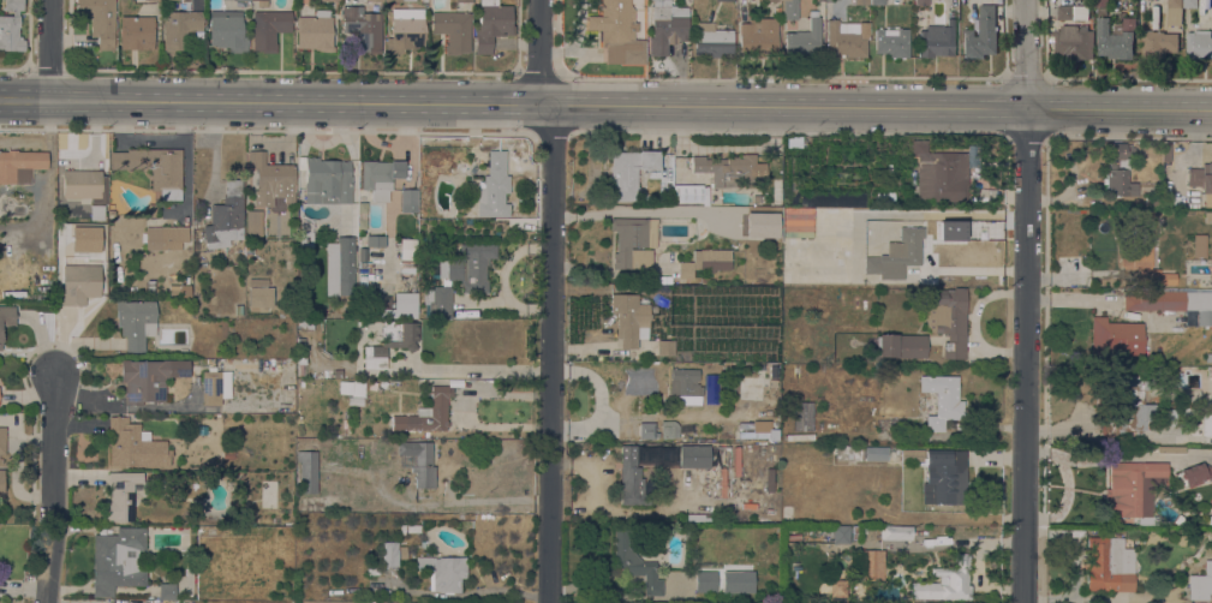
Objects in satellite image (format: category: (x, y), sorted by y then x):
building: (330, 0)
building: (392, 0)
building: (462, 0)
building: (770, 0)
building: (860, 1)
building: (877, 1)
building: (921, 1)
building: (262, 2)
building: (1100, 2)
building: (1189, 4)
building: (789, 10)
building: (1174, 11)
building: (1065, 12)
building: (100, 20)
building: (1129, 23)
building: (364, 24)
building: (491, 24)
building: (667, 25)
building: (11, 26)
building: (179, 28)
building: (268, 28)
building: (453, 29)
building: (227, 30)
building: (406, 30)
building: (315, 31)
building: (136, 32)
building: (619, 32)
building: (981, 32)
building: (756, 34)
building: (712, 38)
building: (844, 38)
building: (936, 40)
building: (804, 41)
building: (891, 41)
building: (1112, 41)
building: (1074, 42)
building: (1158, 42)
building: (1199, 43)
road: (52, 50)
road: (541, 52)
road: (1092, 79)
road: (605, 105)
road: (268, 131)
road: (550, 132)
road: (826, 133)
road: (1028, 136)
building: (620, 142)
building: (20, 165)
building: (154, 168)
building: (730, 168)
building: (629, 171)
building: (1118, 172)
building: (939, 173)
building: (380, 177)
building: (1201, 177)
building: (271, 179)
building: (327, 180)
building: (82, 183)
building: (494, 186)
building: (689, 192)
building: (408, 196)
building: (1152, 202)
building: (151, 209)
building: (291, 213)
building: (226, 216)
road: (1046, 217)
building: (1208, 217)
building: (798, 221)
building: (253, 225)
building: (311, 225)
building: (166, 238)
building: (306, 238)
building: (375, 239)
building: (631, 243)
building: (1199, 245)
building: (406, 249)
building: (1144, 252)
building: (181, 253)
building: (897, 253)
building: (342, 258)
building: (705, 261)
building: (459, 277)
building: (662, 280)
building: (704, 280)
building: (79, 282)
building: (150, 287)
building: (184, 291)
building: (259, 292)
road: (1026, 300)
building: (1174, 301)
building: (395, 308)
building: (239, 309)
building: (6, 317)
building: (629, 317)
building: (948, 318)
road: (974, 321)
building: (136, 322)
building: (1116, 338)
building: (390, 341)
road: (1005, 341)
building: (901, 345)
building: (665, 346)
road: (550, 353)
building: (1208, 357)
building: (300, 363)
road: (473, 366)
building: (338, 371)
building: (149, 378)
building: (685, 382)
building: (383, 383)
building: (372, 384)
building: (215, 386)
building: (352, 388)
road: (29, 395)
road: (598, 398)
building: (942, 400)
building: (1124, 404)
building: (426, 412)
building: (802, 416)
building: (1168, 417)
building: (1196, 418)
building: (201, 429)
building: (669, 429)
building: (753, 429)
building: (647, 430)
building: (686, 430)
building: (759, 435)
building: (799, 436)
building: (2, 440)
building: (135, 444)
building: (1170, 449)
building: (848, 453)
building: (876, 453)
building: (912, 454)
building: (694, 455)
building: (419, 461)
building: (308, 470)
building: (1195, 473)
building: (944, 476)
building: (631, 477)
building: (722, 482)
building: (1, 483)
road: (1044, 485)
building: (1133, 485)
road: (50, 488)
building: (450, 488)
building: (120, 496)
building: (1210, 500)
road: (488, 502)
building: (1211, 508)
building: (699, 518)
road: (1043, 519)
road: (1043, 526)
building: (410, 527)
building: (854, 532)
building: (896, 532)
road: (1043, 532)
building: (841, 533)
building: (792, 536)
building: (402, 551)
building: (389, 553)
building: (118, 560)
building: (635, 563)
building: (872, 563)
building: (1109, 565)
road: (1041, 566)
building: (372, 571)
building: (443, 572)
building: (705, 580)
building: (735, 581)
building: (945, 581)
building: (1200, 583)
building: (167, 590)
road: (1041, 599)

